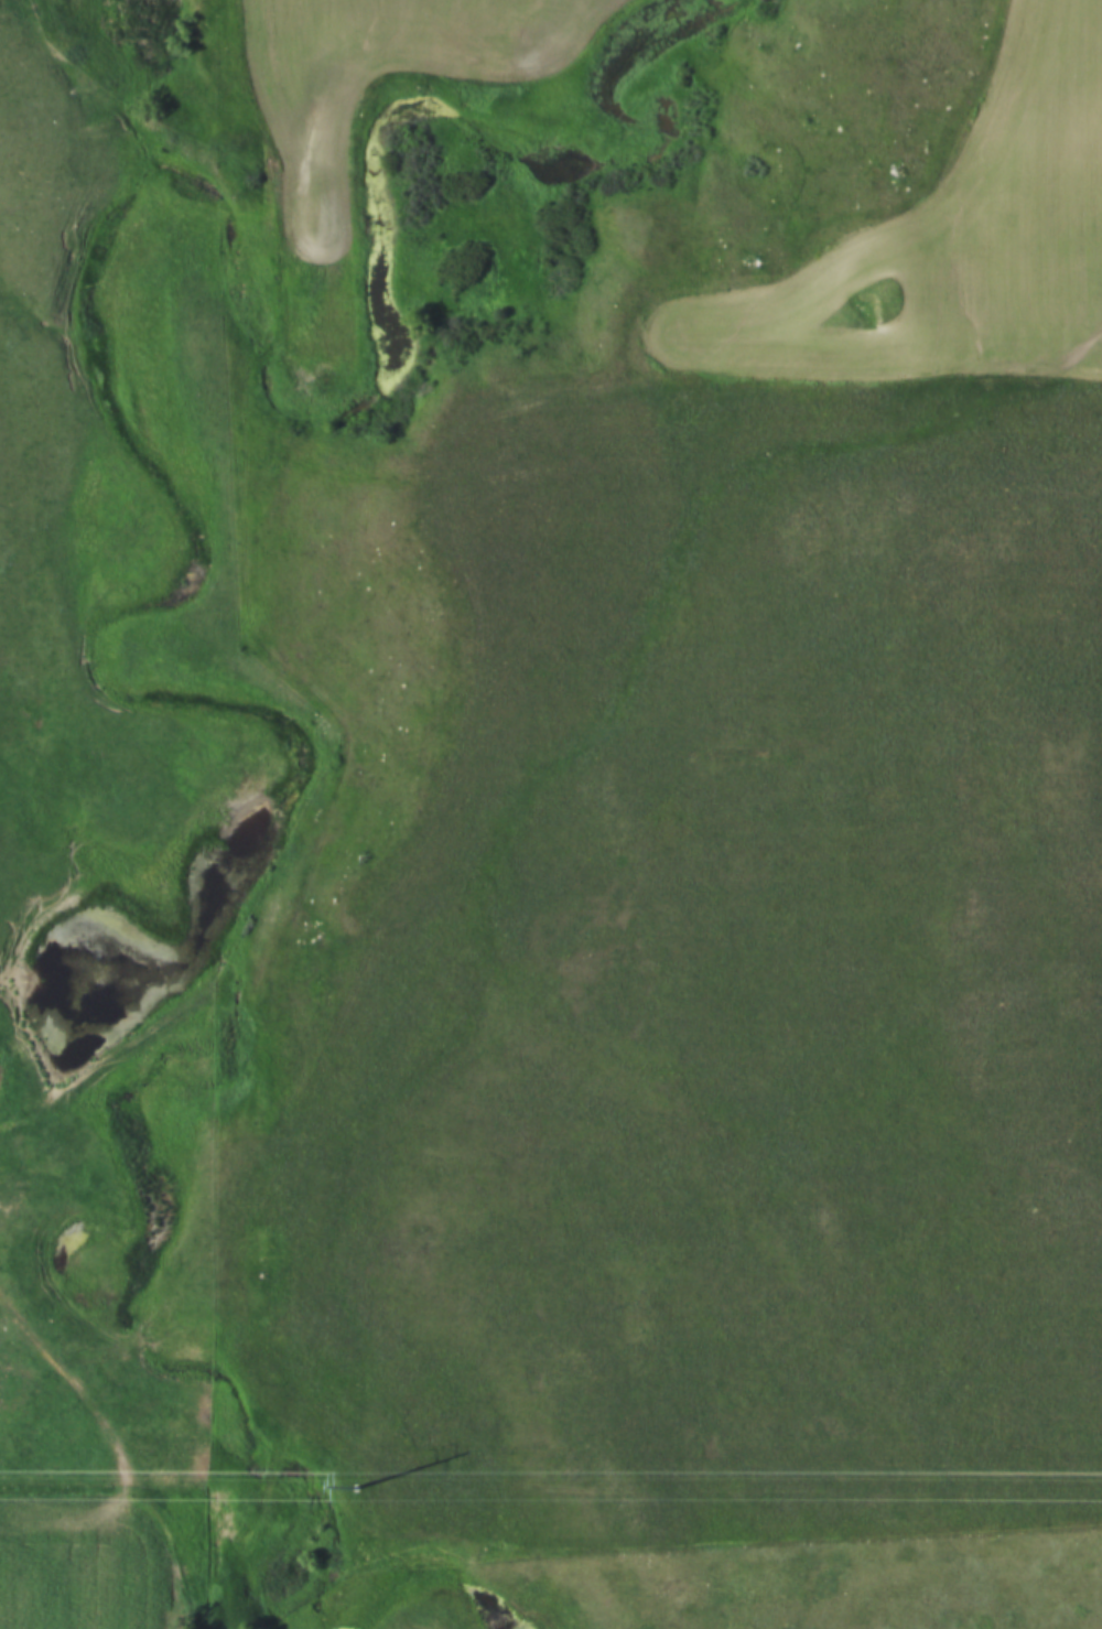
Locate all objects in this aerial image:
road: (529, 936)
road: (118, 1450)
power tower: (354, 1486)

